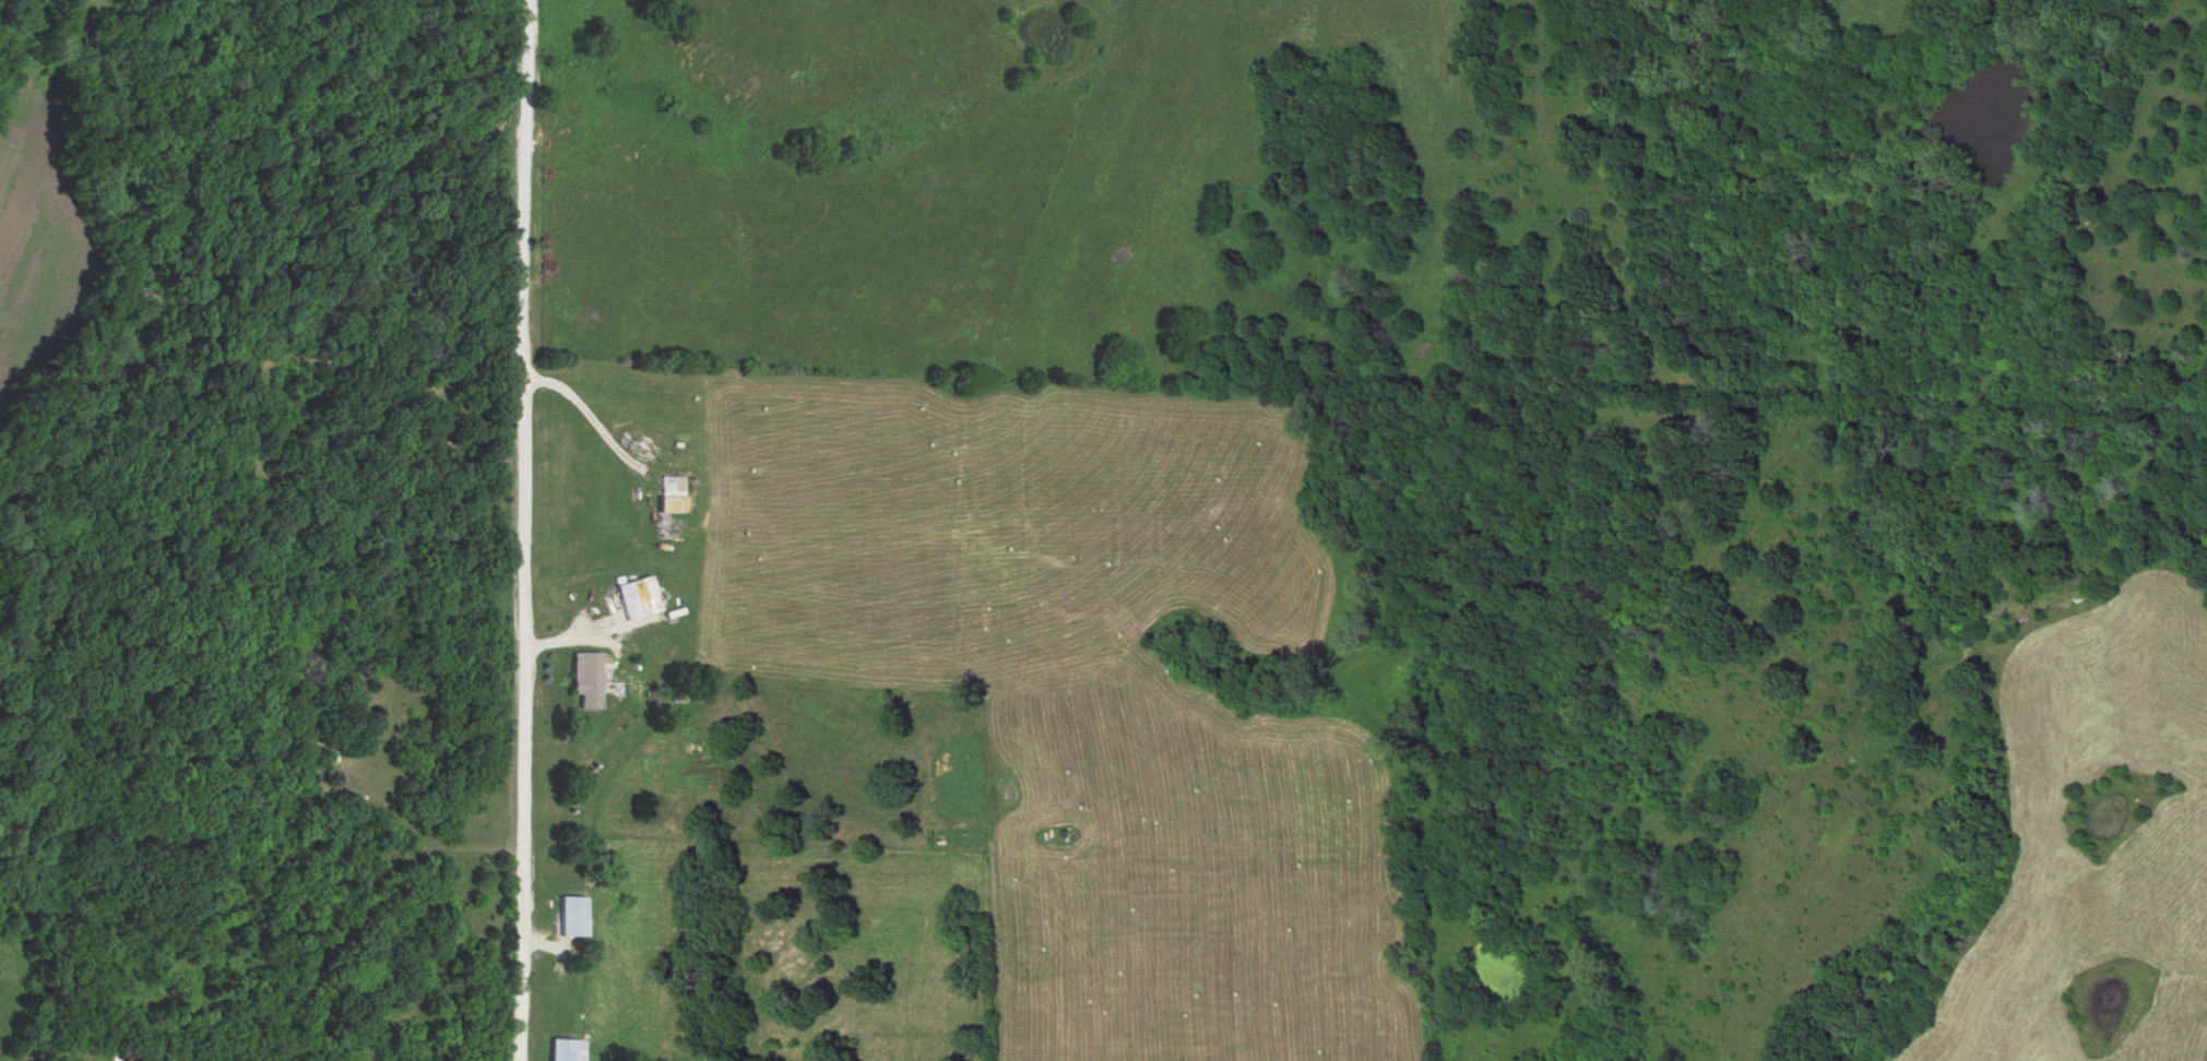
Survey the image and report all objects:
road: (589, 424)
building: (666, 494)
road: (536, 532)
building: (633, 598)
building: (584, 679)
building: (567, 914)
building: (562, 1048)

